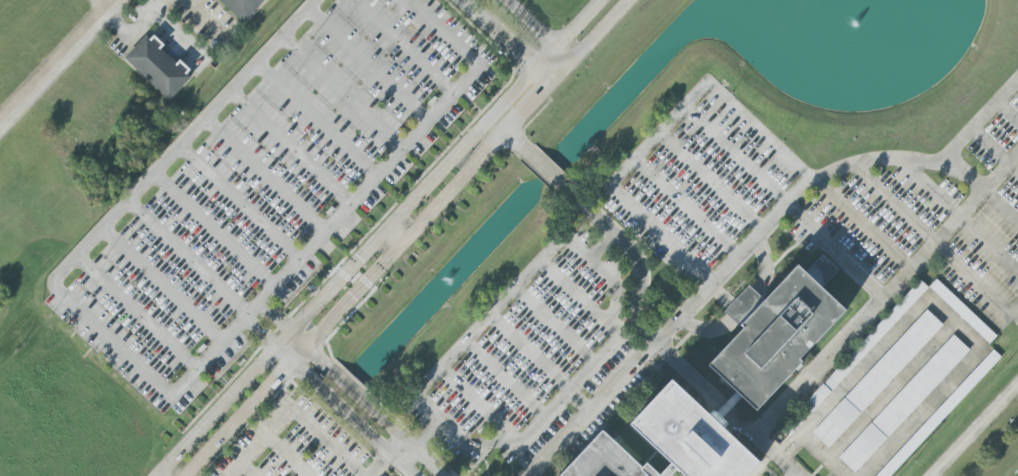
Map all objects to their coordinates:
road: (103, 5)
building: (242, 7)
road: (479, 15)
road: (529, 24)
road: (581, 24)
road: (137, 30)
road: (405, 47)
road: (516, 49)
road: (565, 55)
road: (547, 58)
road: (60, 61)
road: (369, 65)
building: (158, 67)
road: (545, 76)
road: (343, 94)
road: (1007, 112)
road: (317, 122)
road: (659, 135)
road: (518, 141)
road: (291, 149)
road: (994, 149)
road: (737, 155)
road: (545, 167)
road: (964, 174)
road: (266, 175)
road: (817, 176)
road: (711, 183)
road: (241, 202)
road: (1001, 206)
road: (686, 209)
road: (957, 214)
road: (860, 226)
road: (214, 230)
road: (409, 236)
road: (934, 240)
road: (603, 246)
road: (838, 249)
road: (633, 253)
road: (188, 258)
road: (347, 272)
road: (608, 276)
road: (164, 283)
road: (576, 295)
road: (884, 298)
building: (962, 311)
road: (136, 313)
road: (1015, 314)
road: (276, 317)
road: (556, 325)
road: (263, 330)
building: (865, 346)
road: (530, 353)
building: (739, 378)
building: (877, 379)
road: (505, 380)
road: (168, 389)
road: (578, 401)
road: (477, 403)
building: (903, 404)
road: (357, 409)
road: (294, 411)
road: (587, 411)
road: (917, 414)
building: (939, 414)
road: (974, 430)
road: (423, 435)
road: (796, 440)
road: (781, 452)
road: (819, 452)
road: (286, 456)
road: (770, 457)
road: (779, 459)
road: (383, 460)
road: (247, 470)
building: (373, 475)
park: (1017, 475)

